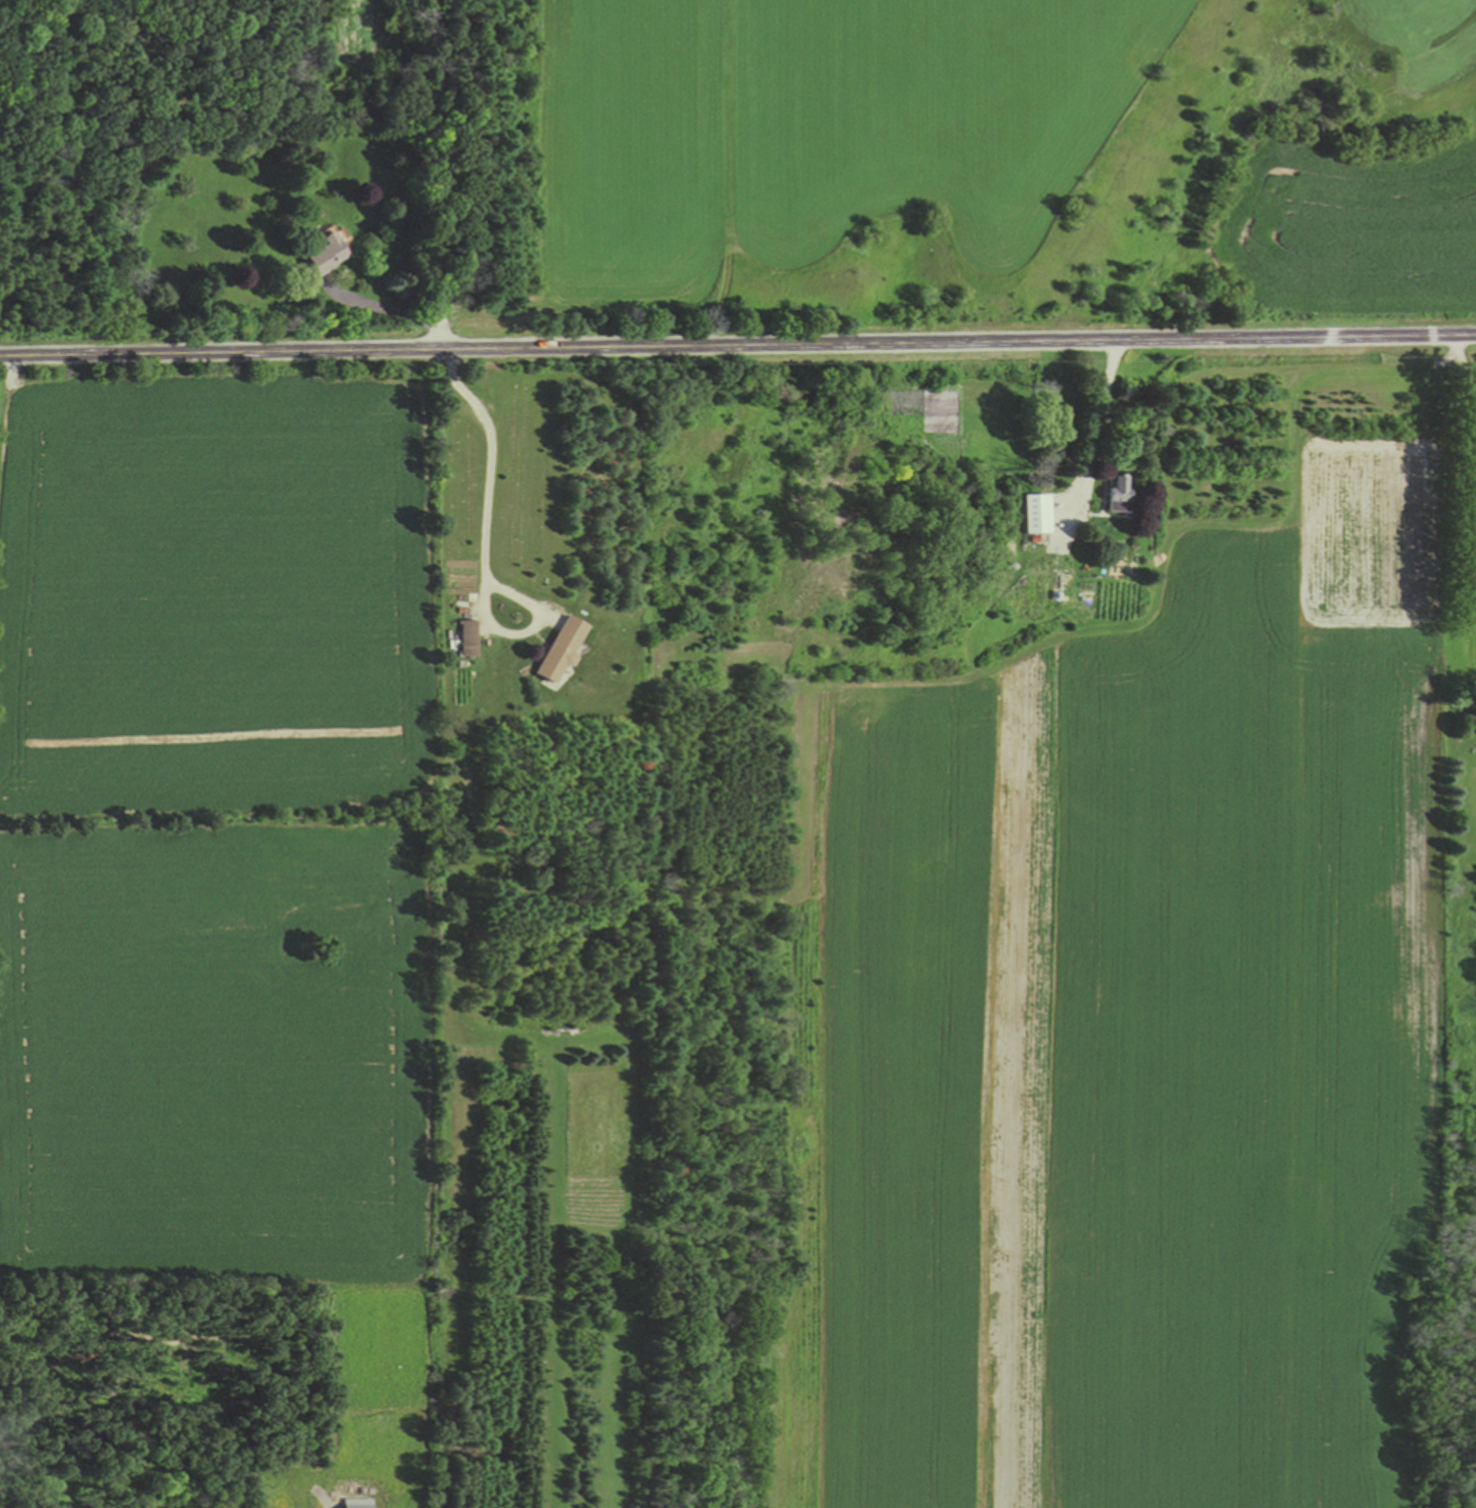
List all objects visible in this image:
road: (435, 175)
building: (323, 255)
road: (737, 347)
road: (1445, 369)
road: (1094, 430)
building: (1117, 496)
building: (1038, 516)
road: (482, 547)
building: (1049, 591)
building: (468, 640)
building: (557, 652)

